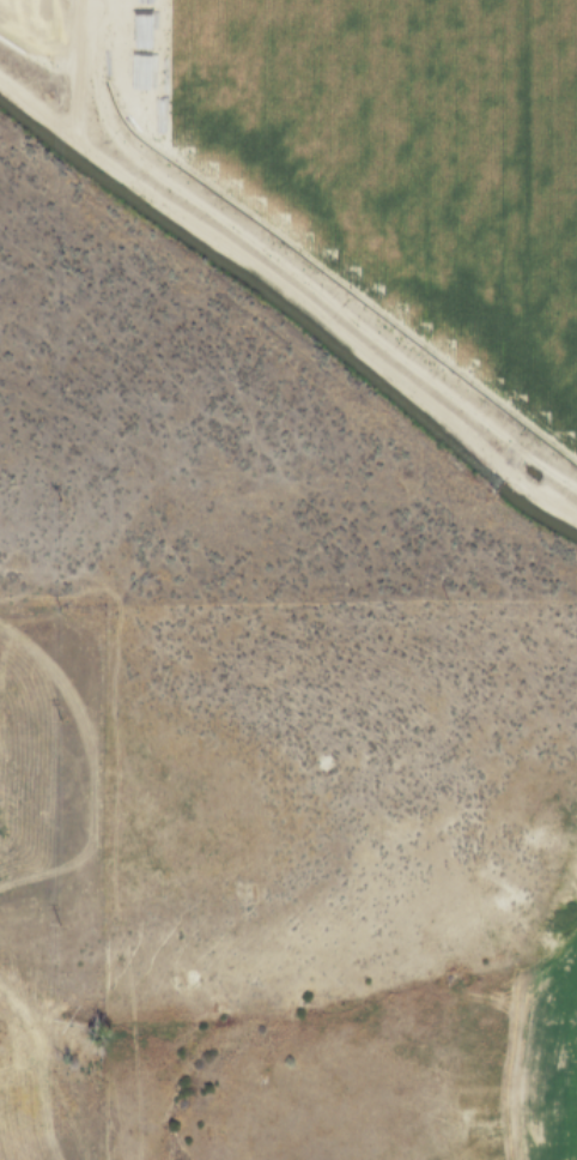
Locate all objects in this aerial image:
road: (91, 16)

